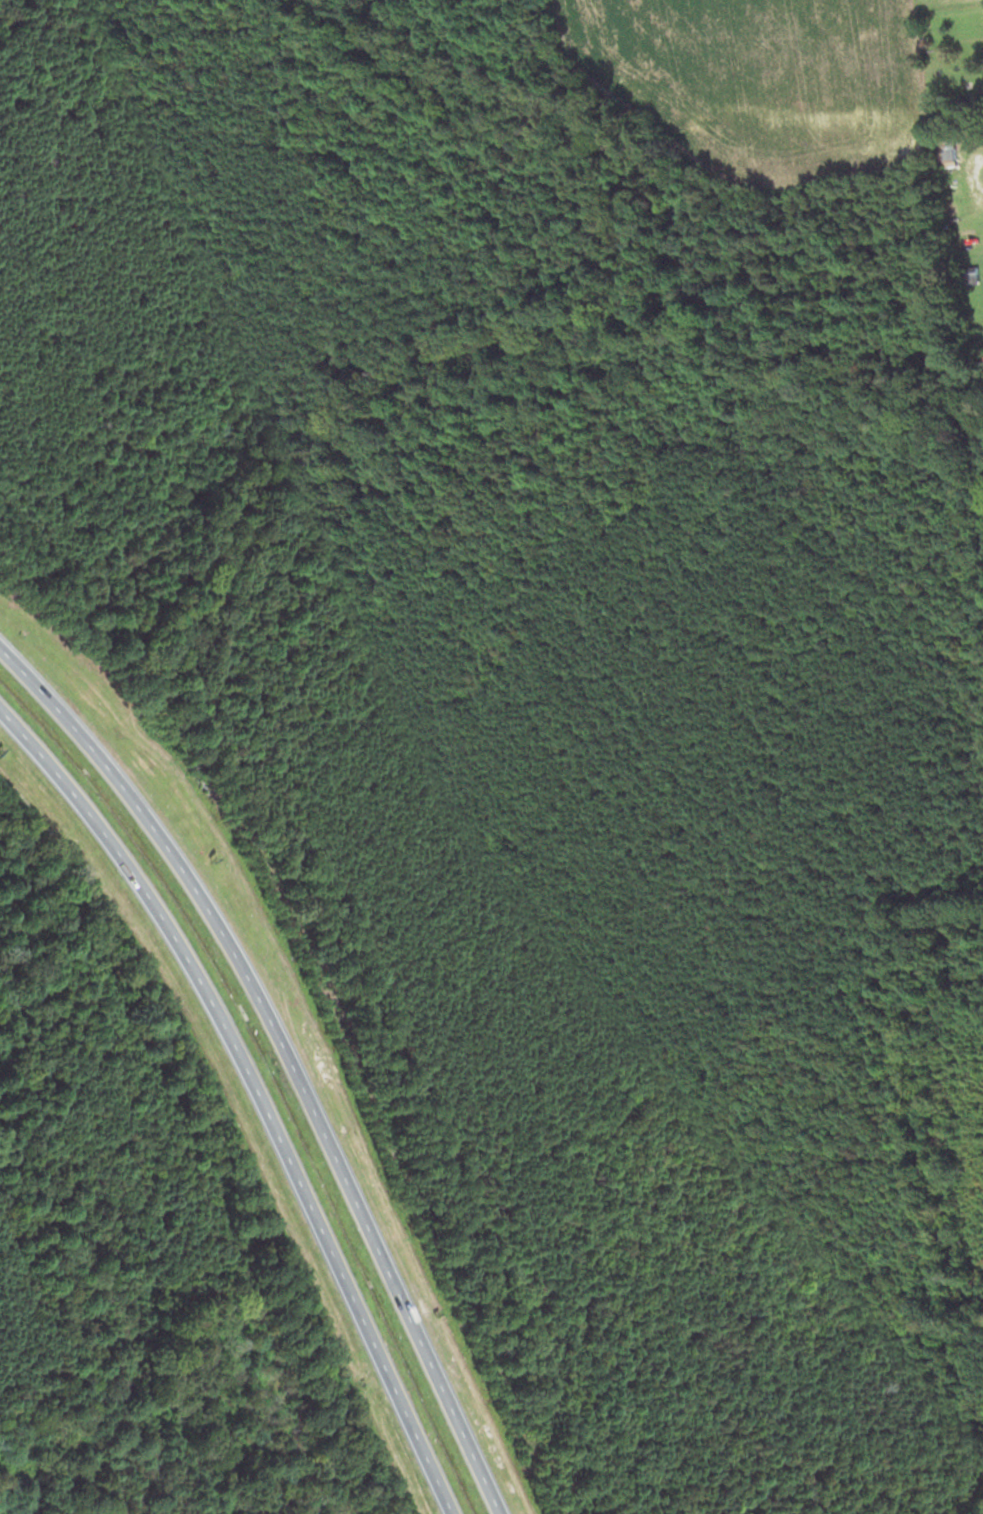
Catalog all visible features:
crop: (761, 80)
building: (944, 150)
road: (289, 1056)
road: (257, 1090)

